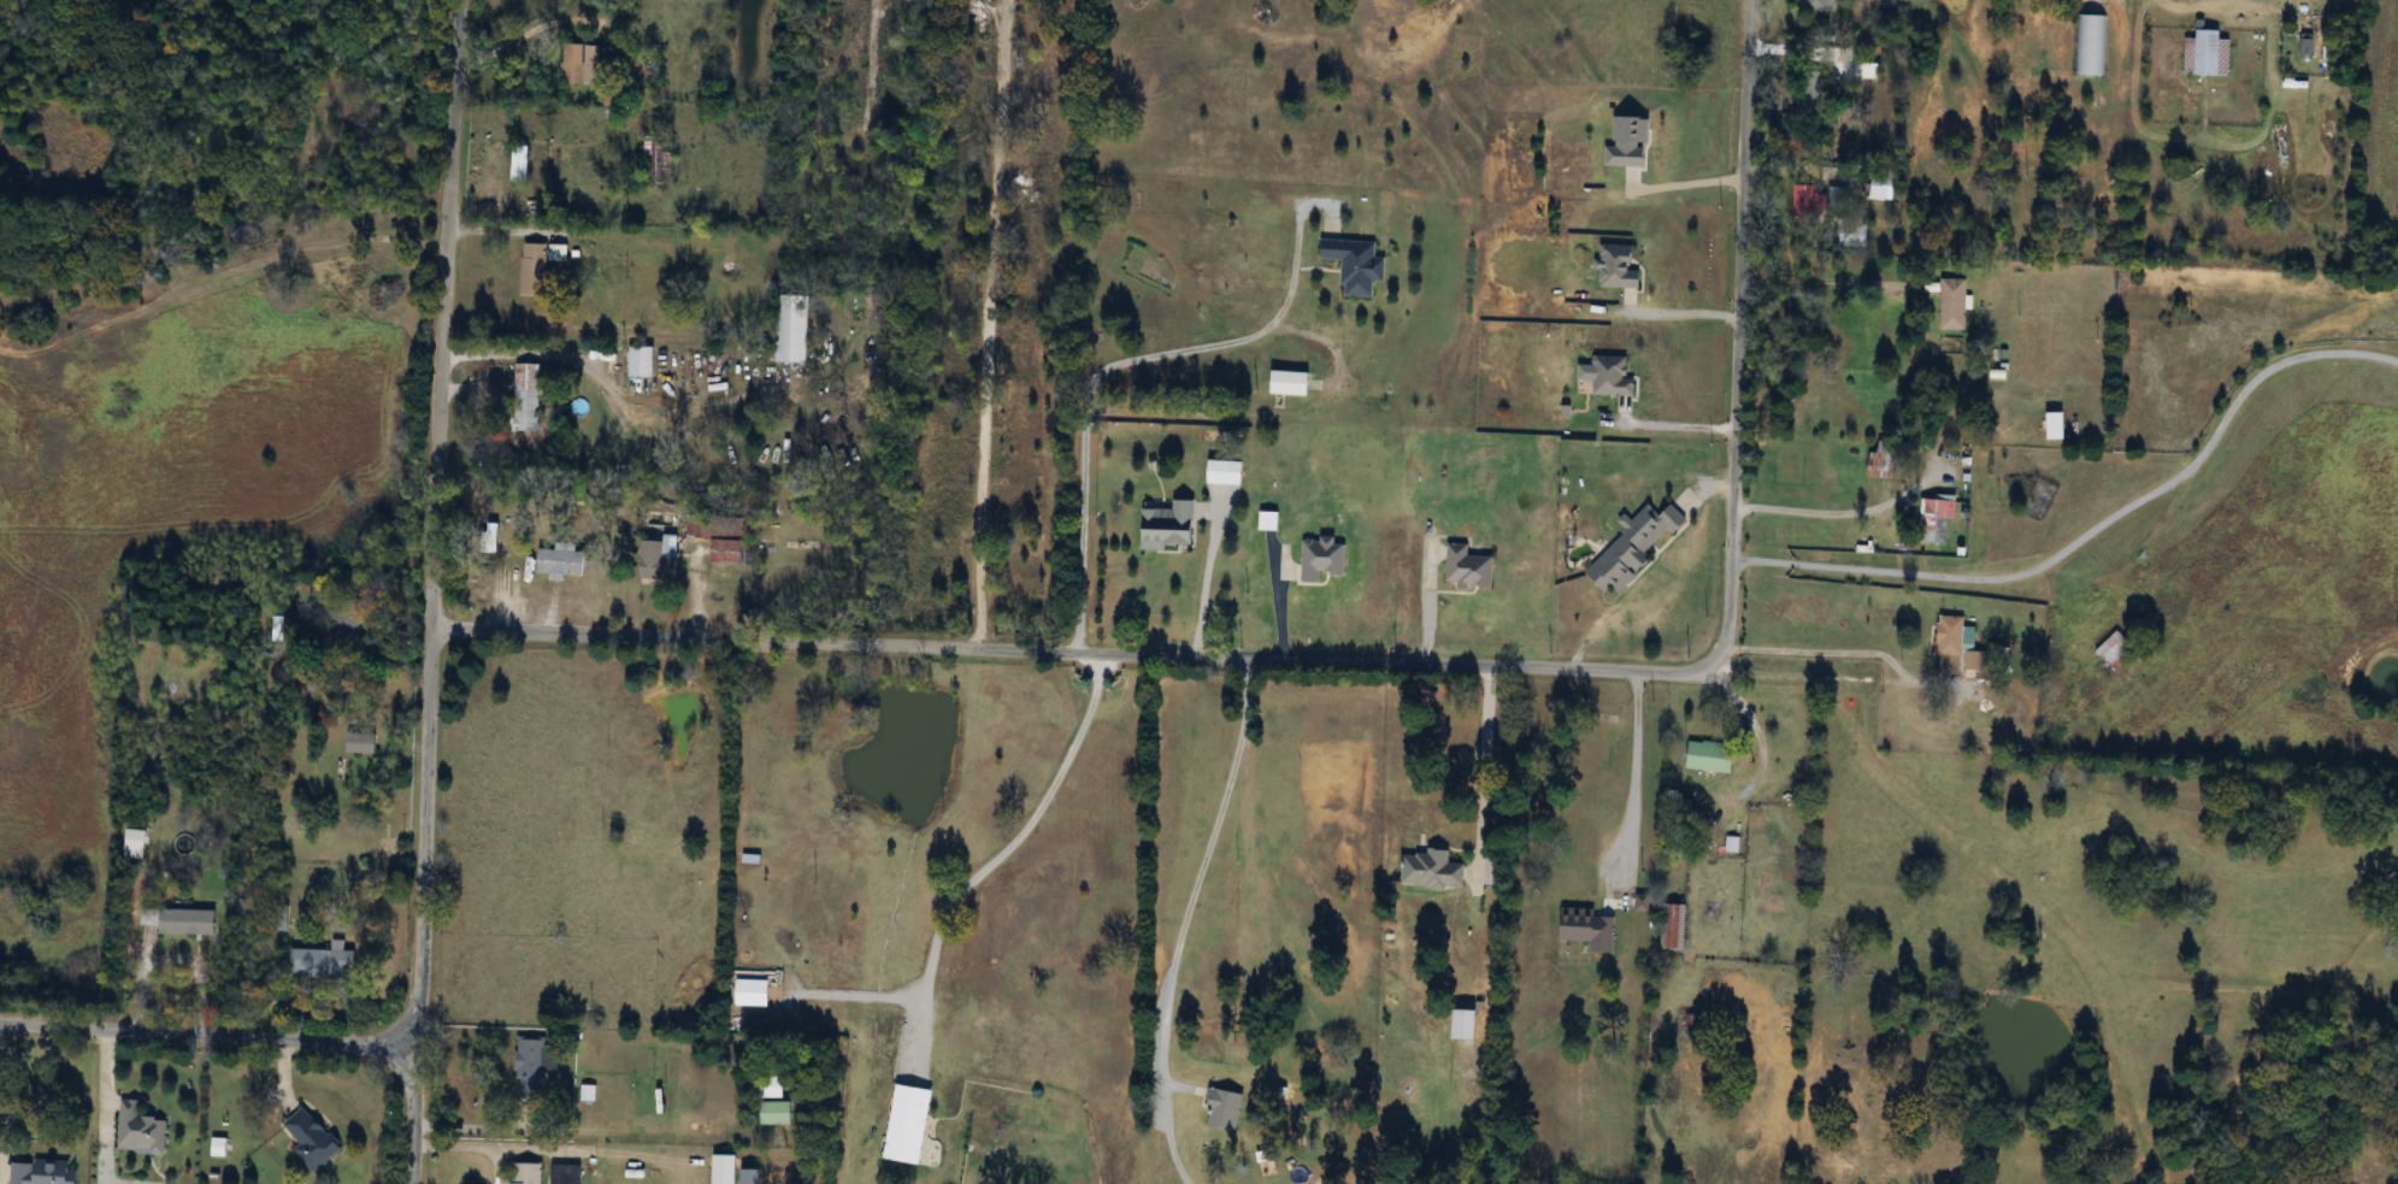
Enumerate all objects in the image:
building: (678, 0)
building: (1821, 5)
road: (960, 6)
road: (517, 33)
building: (2090, 46)
building: (2308, 46)
building: (2209, 54)
road: (868, 60)
building: (583, 63)
building: (667, 89)
building: (1809, 93)
building: (1632, 142)
building: (522, 164)
road: (1683, 176)
building: (1885, 184)
building: (1838, 198)
building: (1808, 200)
building: (1854, 236)
building: (560, 253)
building: (1357, 265)
building: (1620, 267)
building: (536, 270)
road: (1815, 281)
building: (1955, 305)
road: (985, 322)
building: (795, 329)
building: (643, 361)
road: (1107, 370)
building: (1614, 377)
building: (1292, 383)
building: (529, 397)
road: (1672, 418)
building: (2057, 426)
building: (1889, 463)
building: (1229, 472)
road: (1840, 513)
building: (1938, 520)
building: (1172, 526)
road: (2093, 532)
building: (726, 534)
building: (1636, 548)
building: (661, 558)
building: (1325, 559)
building: (561, 561)
building: (1471, 569)
road: (1203, 575)
road: (432, 591)
road: (1425, 596)
building: (349, 625)
building: (1951, 644)
road: (1845, 646)
building: (2117, 650)
road: (1404, 661)
building: (1976, 661)
road: (1758, 734)
building: (363, 741)
building: (1711, 756)
road: (1484, 764)
road: (1632, 778)
road: (1007, 848)
building: (1433, 871)
building: (149, 918)
road: (1184, 919)
building: (189, 921)
building: (1677, 927)
building: (324, 964)
road: (861, 991)
building: (1468, 1025)
building: (1687, 1027)
road: (204, 1038)
building: (531, 1067)
building: (772, 1089)
building: (779, 1114)
building: (911, 1125)
building: (141, 1130)
building: (313, 1138)
building: (220, 1147)
building: (45, 1172)
building: (526, 1173)
building: (566, 1174)

